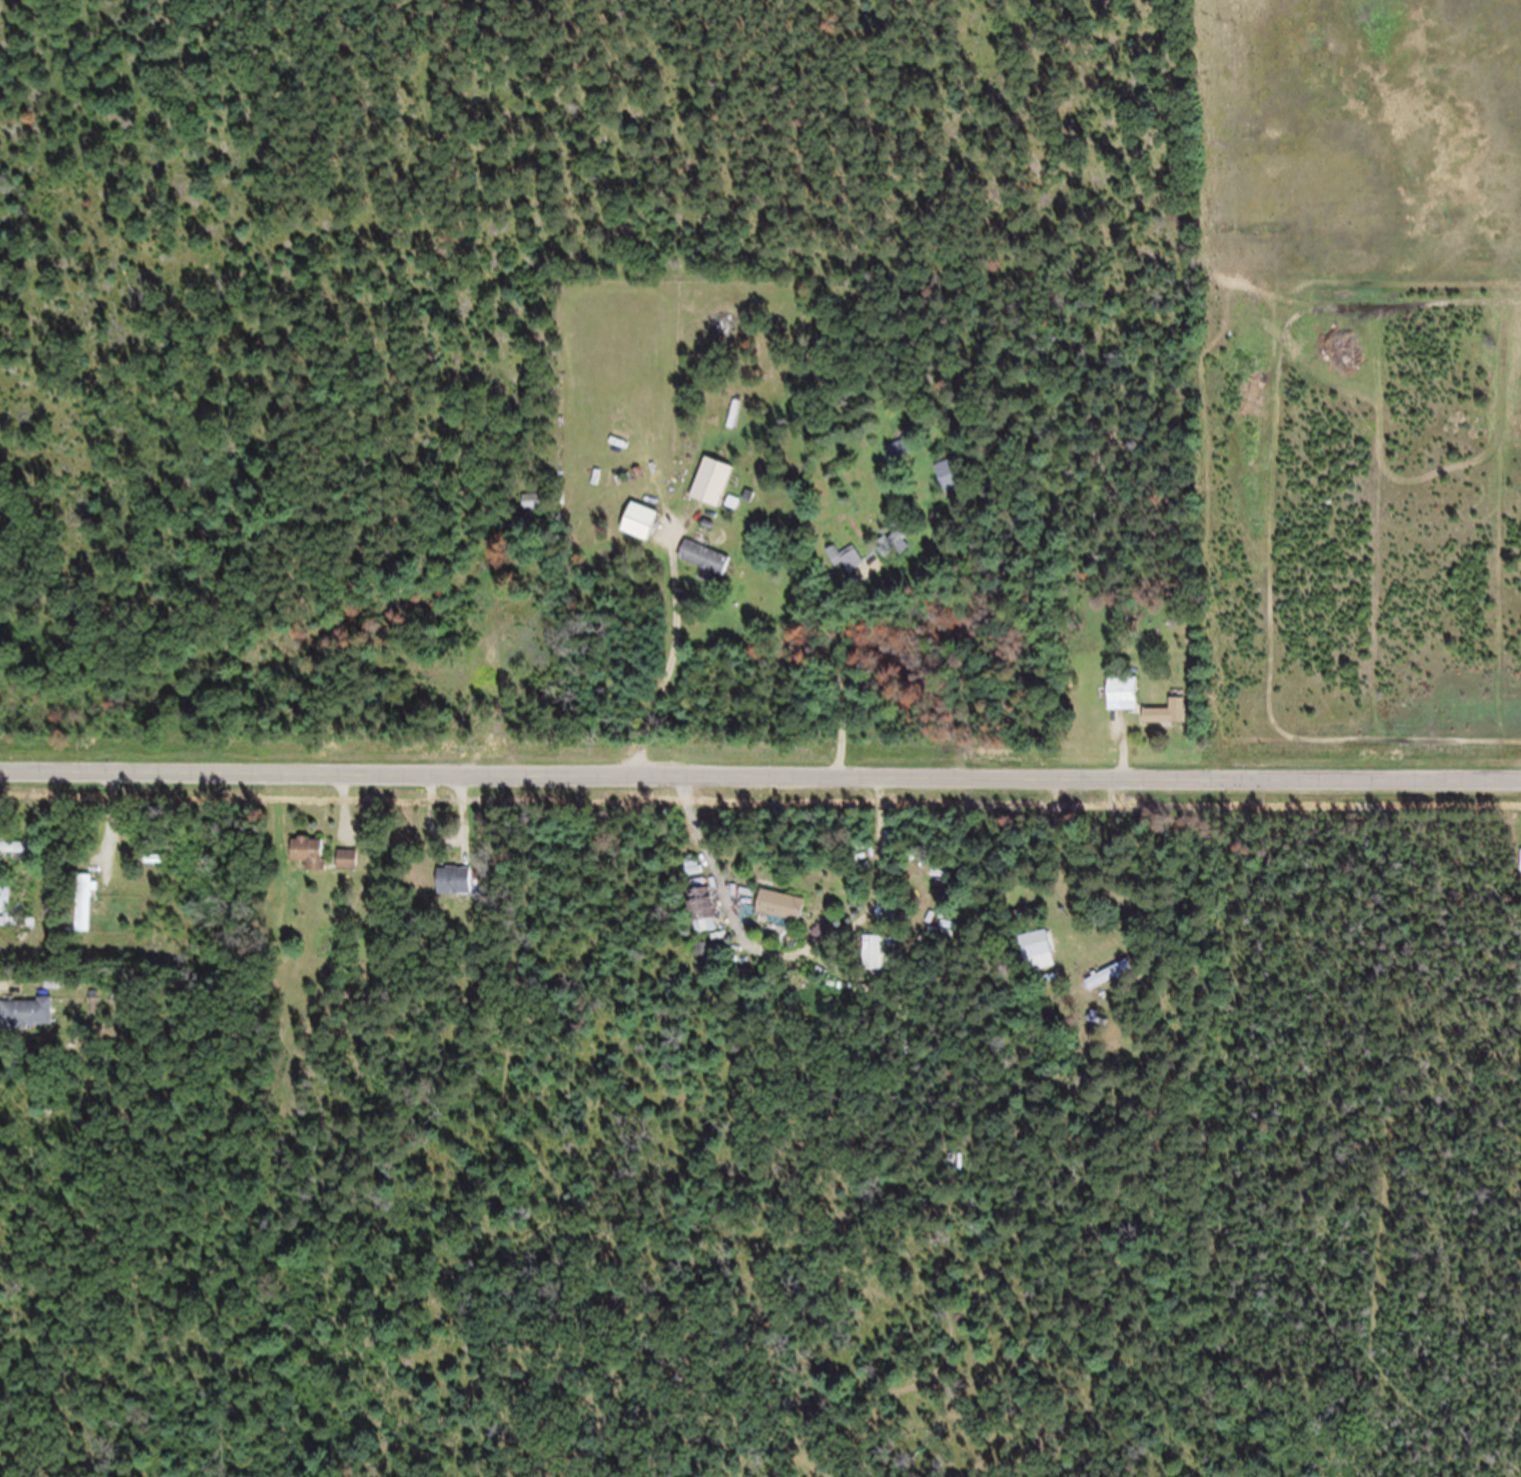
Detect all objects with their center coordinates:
airport: (1358, 143)
building: (905, 459)
building: (949, 484)
building: (711, 493)
building: (534, 513)
building: (638, 532)
building: (896, 554)
building: (703, 568)
building: (852, 570)
building: (1122, 704)
building: (1166, 724)
road: (760, 785)
building: (15, 855)
building: (309, 862)
building: (455, 889)
building: (5, 908)
building: (84, 912)
building: (779, 915)
building: (700, 918)
building: (18, 932)
building: (1036, 953)
building: (876, 964)
building: (1110, 984)
building: (26, 1022)
building: (958, 1171)

